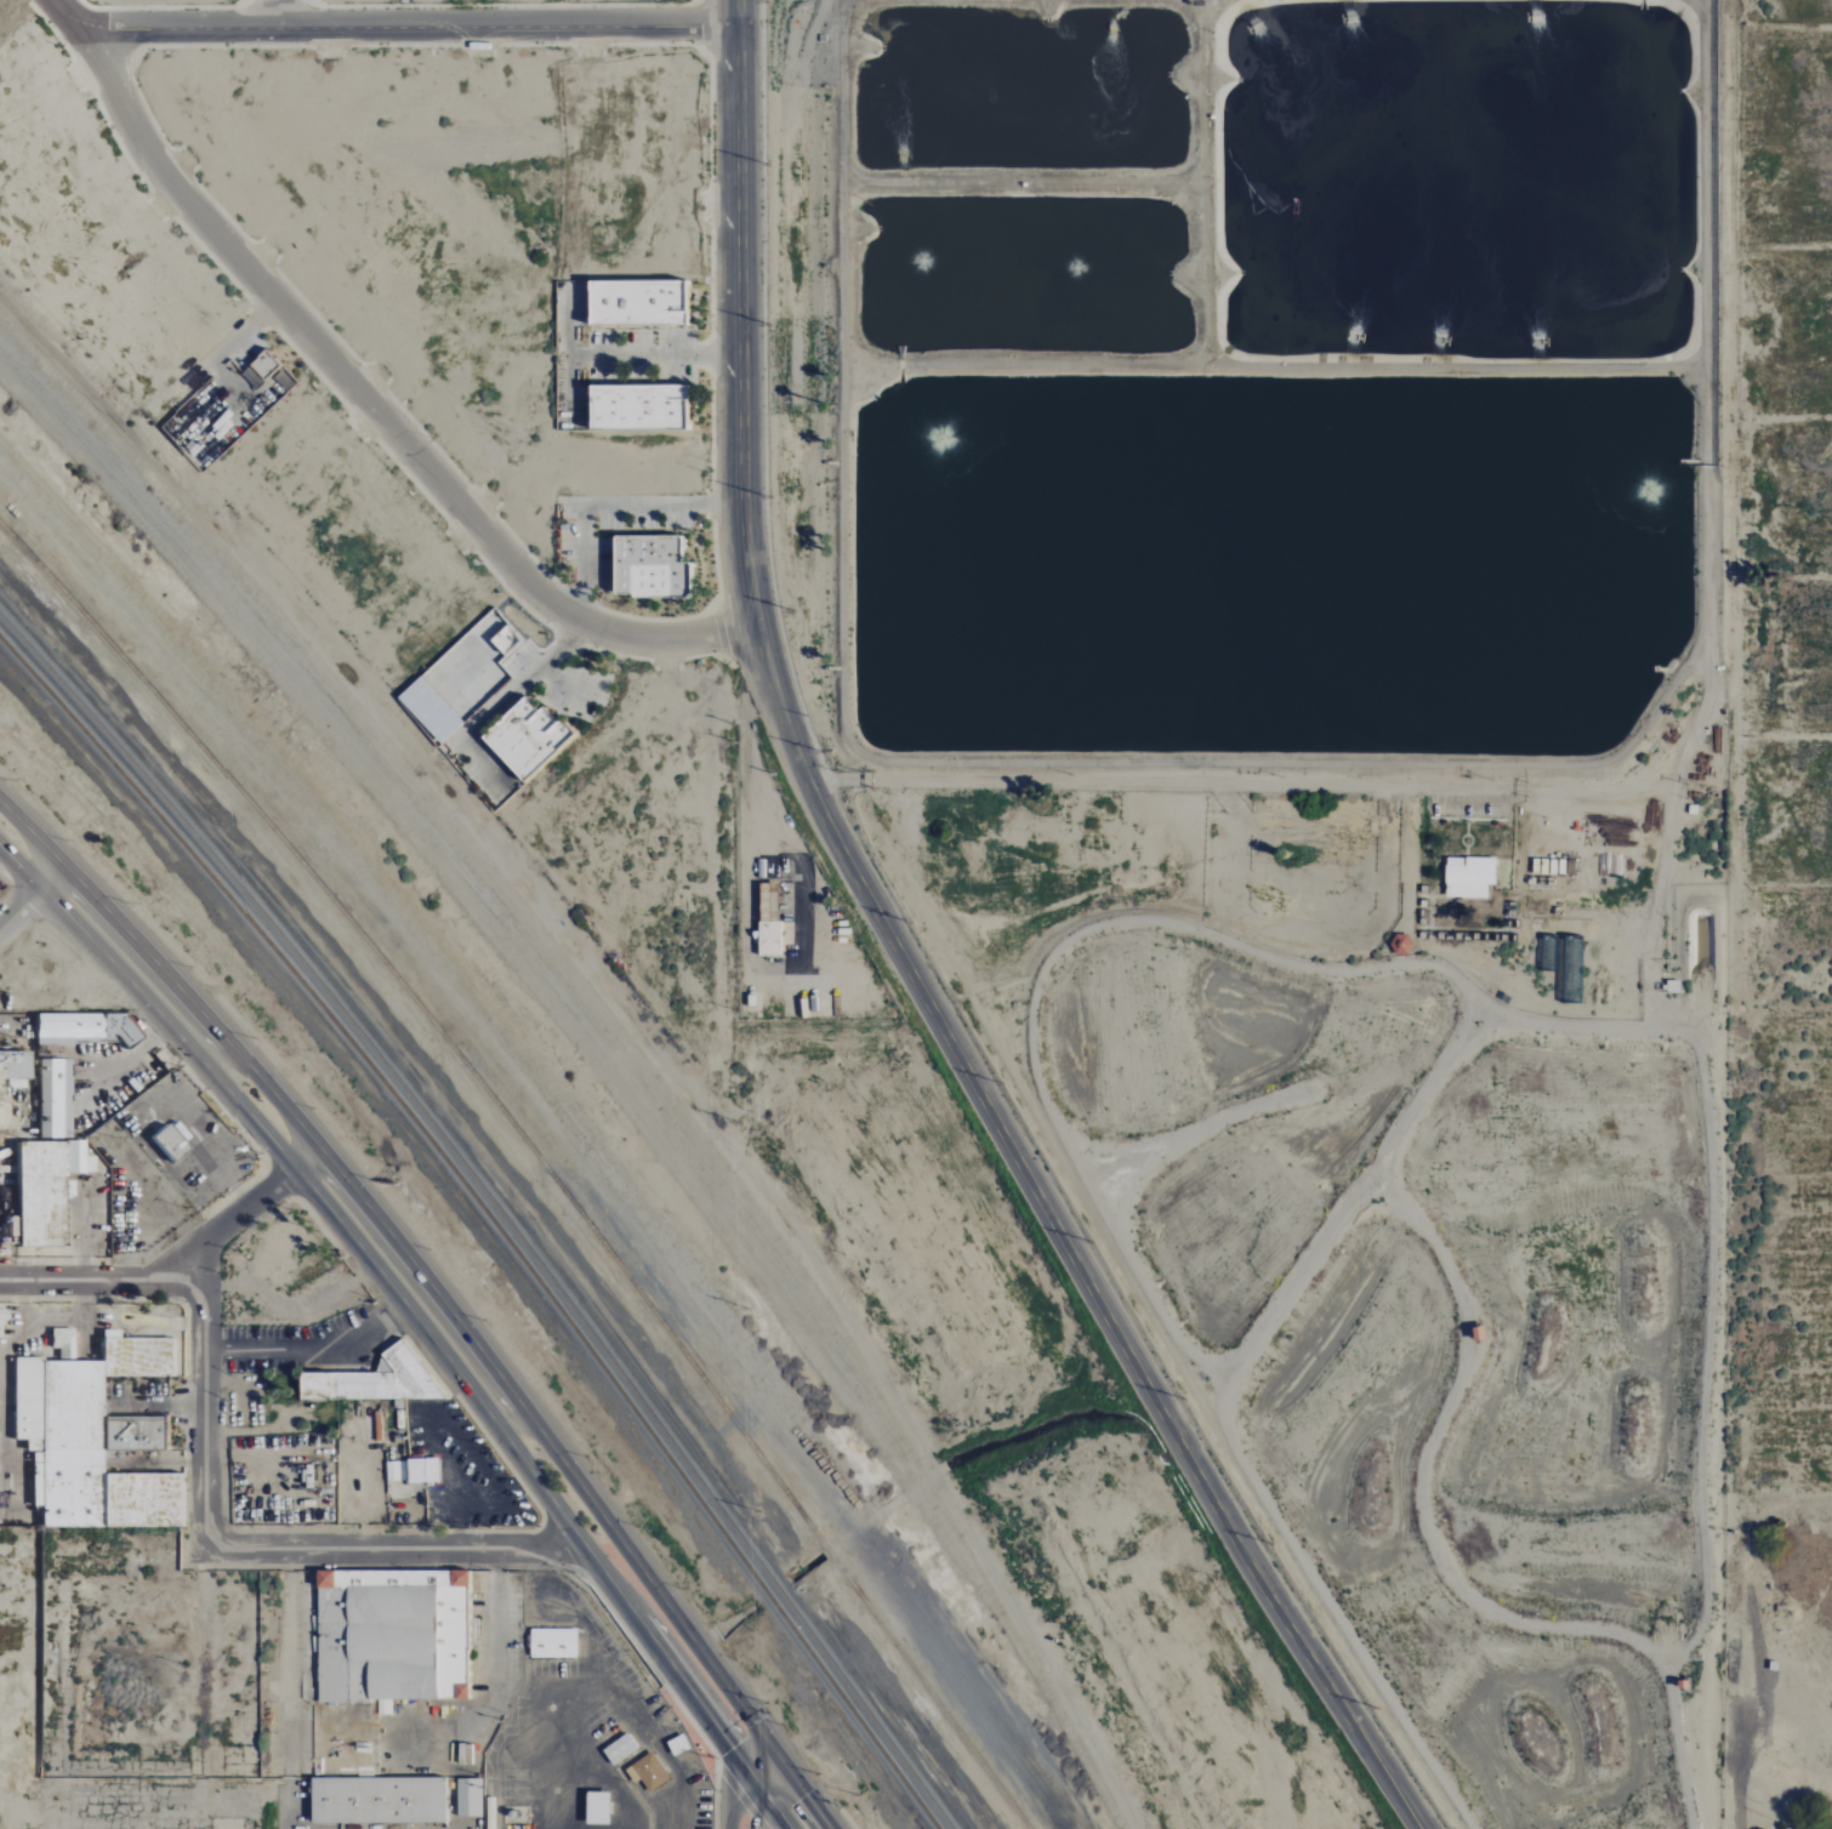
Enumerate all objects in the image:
road: (278, 11)
road: (74, 12)
road: (413, 23)
fountain: (1064, 261)
building: (637, 302)
road: (739, 315)
road: (655, 354)
building: (260, 369)
road: (372, 406)
building: (637, 406)
building: (648, 565)
building: (524, 737)
road: (1622, 781)
road: (1667, 815)
railway: (188, 828)
road: (10, 855)
road: (44, 864)
building: (1469, 876)
road: (30, 877)
road: (21, 908)
building: (768, 919)
building: (1571, 968)
road: (149, 980)
road: (161, 1015)
building: (83, 1026)
building: (53, 1098)
building: (1, 1115)
building: (166, 1143)
road: (302, 1149)
road: (285, 1157)
railway: (536, 1157)
building: (44, 1189)
railway: (489, 1217)
road: (1065, 1242)
road: (404, 1252)
road: (160, 1260)
road: (421, 1298)
building: (2, 1315)
road: (309, 1349)
building: (372, 1380)
road: (205, 1391)
building: (92, 1435)
railway: (665, 1436)
road: (463, 1442)
road: (519, 1460)
building: (422, 1470)
building: (393, 1471)
road: (393, 1542)
road: (288, 1555)
building: (398, 1631)
building: (553, 1643)
road: (497, 1673)
road: (288, 1674)
traffic signals: (732, 1749)
road: (752, 1749)
building: (465, 1754)
road: (775, 1755)
railway: (874, 1760)
building: (647, 1772)
road: (751, 1776)
road: (775, 1782)
road: (796, 1783)
road: (1770, 1789)
road: (732, 1794)
traffic signals: (806, 1795)
building: (377, 1801)
road: (284, 1802)
road: (758, 1802)
building: (597, 1810)
road: (776, 1811)
road: (818, 1812)
traffic signals: (755, 1813)
road: (752, 1821)

